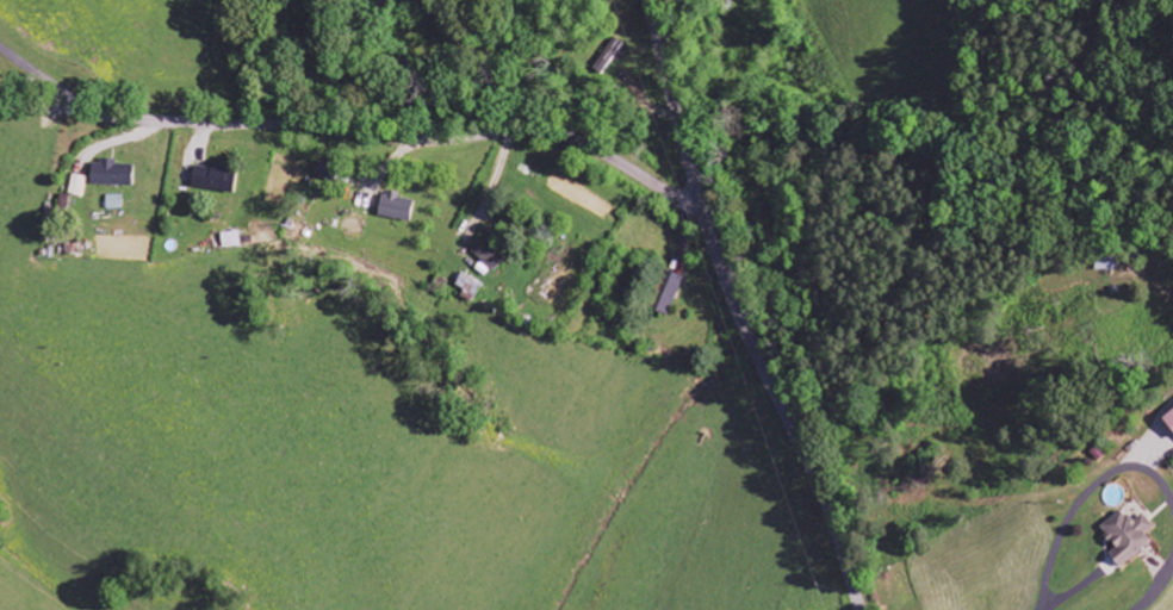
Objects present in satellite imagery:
building: (608, 56)
road: (353, 132)
building: (325, 173)
building: (110, 174)
building: (213, 180)
building: (112, 203)
building: (396, 207)
building: (229, 239)
building: (490, 254)
building: (1106, 263)
building: (467, 287)
road: (737, 310)
building: (1168, 422)
building: (1125, 536)

